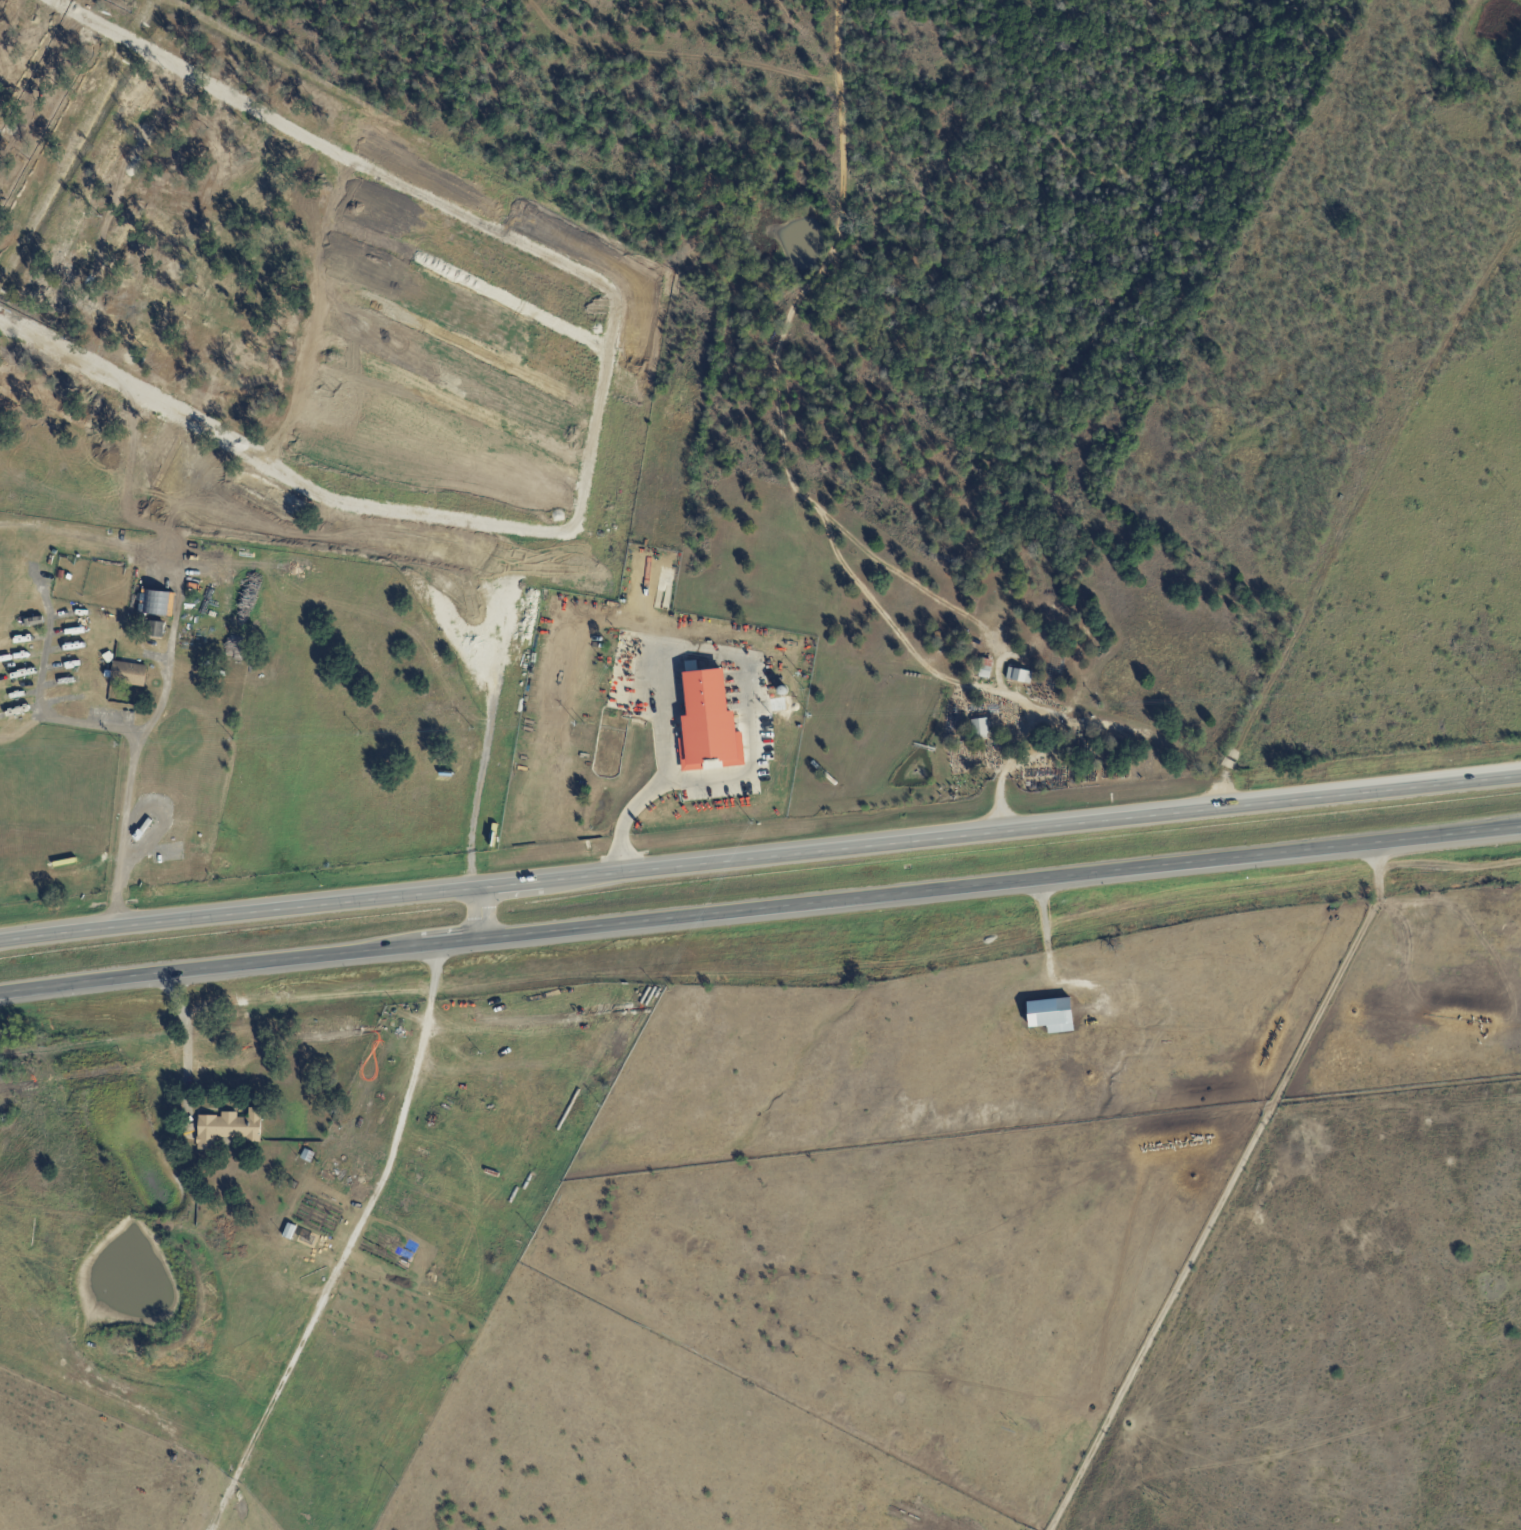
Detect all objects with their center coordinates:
road: (775, 377)
road: (1357, 509)
building: (155, 630)
building: (937, 636)
road: (696, 642)
building: (690, 666)
building: (984, 672)
building: (127, 675)
building: (1019, 675)
road: (48, 713)
building: (708, 724)
building: (979, 728)
road: (1016, 743)
road: (708, 780)
road: (129, 798)
road: (625, 816)
road: (1000, 832)
road: (1230, 860)
road: (240, 913)
road: (485, 913)
road: (469, 941)
building: (1049, 1016)
road: (187, 1049)
building: (228, 1129)
building: (306, 1157)
building: (326, 1178)
road: (1225, 1190)
building: (288, 1232)
road: (352, 1247)
building: (230, 1346)
building: (254, 1358)
building: (1018, 1424)
building: (1156, 1499)

